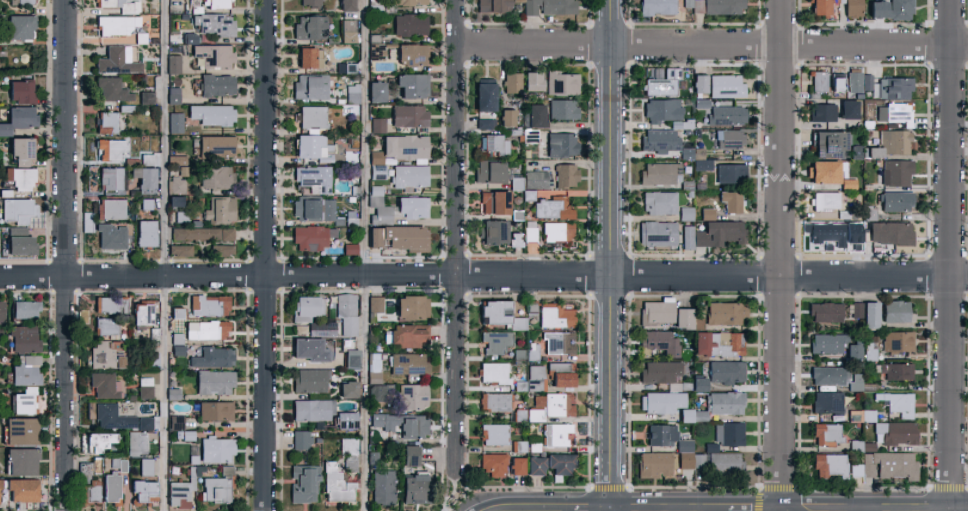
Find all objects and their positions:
building: (517, 0)
building: (21, 1)
building: (308, 2)
building: (410, 2)
building: (109, 3)
building: (215, 3)
building: (345, 4)
building: (493, 5)
building: (550, 6)
building: (723, 6)
building: (657, 7)
building: (819, 8)
building: (877, 8)
building: (900, 9)
building: (213, 23)
building: (117, 24)
building: (409, 24)
building: (20, 26)
building: (308, 26)
building: (347, 30)
building: (189, 38)
road: (710, 43)
building: (409, 54)
building: (212, 55)
building: (309, 56)
building: (119, 59)
building: (172, 63)
building: (837, 79)
building: (531, 80)
building: (818, 80)
building: (661, 81)
building: (853, 81)
building: (511, 82)
building: (699, 82)
building: (866, 82)
building: (562, 83)
building: (216, 84)
building: (412, 84)
building: (725, 85)
building: (310, 86)
building: (893, 87)
building: (110, 89)
building: (19, 90)
building: (376, 91)
building: (352, 94)
building: (483, 94)
building: (172, 95)
building: (145, 97)
building: (562, 108)
building: (848, 108)
building: (662, 109)
building: (822, 112)
building: (894, 113)
building: (211, 114)
building: (535, 114)
building: (727, 114)
building: (408, 115)
building: (311, 116)
building: (506, 117)
building: (17, 118)
building: (107, 122)
building: (175, 122)
building: (485, 123)
building: (378, 124)
building: (728, 138)
building: (658, 139)
building: (893, 140)
building: (491, 143)
building: (828, 143)
building: (561, 144)
building: (215, 145)
building: (308, 145)
building: (399, 147)
building: (108, 149)
building: (19, 150)
building: (873, 151)
building: (146, 159)
building: (701, 160)
building: (177, 165)
building: (488, 171)
building: (822, 171)
building: (729, 172)
building: (896, 172)
building: (660, 173)
building: (409, 175)
building: (565, 175)
building: (216, 176)
building: (19, 177)
building: (313, 177)
building: (109, 178)
building: (535, 179)
building: (145, 180)
building: (516, 183)
building: (176, 185)
building: (173, 200)
building: (825, 200)
building: (896, 200)
building: (730, 201)
building: (493, 202)
building: (659, 202)
building: (146, 203)
building: (304, 207)
building: (113, 208)
building: (326, 208)
building: (397, 208)
building: (552, 208)
building: (219, 209)
building: (17, 210)
building: (707, 213)
building: (868, 213)
building: (853, 230)
building: (492, 231)
building: (824, 231)
building: (557, 232)
building: (656, 232)
building: (889, 232)
building: (145, 233)
building: (201, 234)
building: (713, 234)
building: (110, 236)
building: (312, 237)
building: (399, 237)
road: (454, 237)
building: (513, 239)
building: (18, 241)
building: (349, 248)
building: (179, 250)
building: (217, 250)
road: (608, 252)
road: (779, 252)
road: (949, 252)
road: (64, 255)
road: (165, 255)
road: (264, 255)
road: (363, 255)
road: (484, 274)
building: (374, 303)
building: (108, 304)
building: (208, 305)
building: (306, 307)
building: (411, 307)
building: (24, 309)
building: (857, 310)
building: (1, 311)
building: (657, 311)
building: (895, 311)
building: (346, 312)
building: (725, 312)
building: (825, 312)
building: (140, 314)
building: (499, 314)
building: (870, 314)
building: (554, 315)
building: (682, 318)
building: (106, 326)
building: (323, 327)
building: (206, 329)
building: (405, 335)
building: (23, 338)
building: (495, 341)
building: (898, 341)
building: (558, 342)
building: (660, 342)
building: (347, 343)
building: (717, 343)
building: (827, 343)
building: (311, 348)
building: (853, 350)
building: (870, 351)
building: (106, 354)
building: (212, 357)
building: (350, 358)
building: (408, 363)
building: (374, 367)
building: (24, 371)
building: (658, 371)
building: (726, 371)
building: (897, 371)
building: (493, 372)
building: (560, 374)
building: (830, 375)
building: (536, 377)
building: (309, 380)
building: (213, 382)
building: (856, 382)
building: (699, 383)
building: (103, 384)
building: (144, 387)
building: (347, 388)
building: (172, 394)
building: (412, 395)
building: (23, 401)
building: (494, 401)
building: (661, 401)
building: (725, 402)
building: (827, 402)
building: (899, 402)
building: (558, 404)
building: (312, 409)
building: (215, 410)
building: (692, 415)
building: (111, 417)
building: (345, 420)
building: (175, 422)
building: (144, 423)
building: (402, 423)
building: (21, 430)
building: (897, 432)
building: (493, 433)
building: (555, 433)
building: (728, 433)
building: (660, 434)
building: (826, 434)
building: (300, 439)
building: (99, 441)
building: (136, 441)
building: (215, 450)
building: (685, 451)
building: (348, 454)
building: (408, 455)
building: (716, 459)
building: (21, 460)
building: (492, 464)
building: (655, 464)
building: (890, 464)
building: (516, 465)
building: (535, 465)
building: (558, 465)
building: (829, 465)
building: (145, 466)
building: (856, 469)
building: (113, 479)
building: (303, 483)
building: (335, 484)
building: (382, 486)
road: (513, 487)
road: (607, 487)
road: (691, 487)
road: (966, 487)
building: (216, 488)
road: (455, 488)
road: (777, 488)
road: (863, 488)
road: (947, 488)
building: (412, 489)
building: (21, 490)
building: (93, 490)
building: (142, 491)
building: (178, 493)
road: (757, 499)
road: (728, 505)
road: (568, 508)
road: (664, 508)
road: (764, 508)
road: (864, 508)
road: (964, 508)

